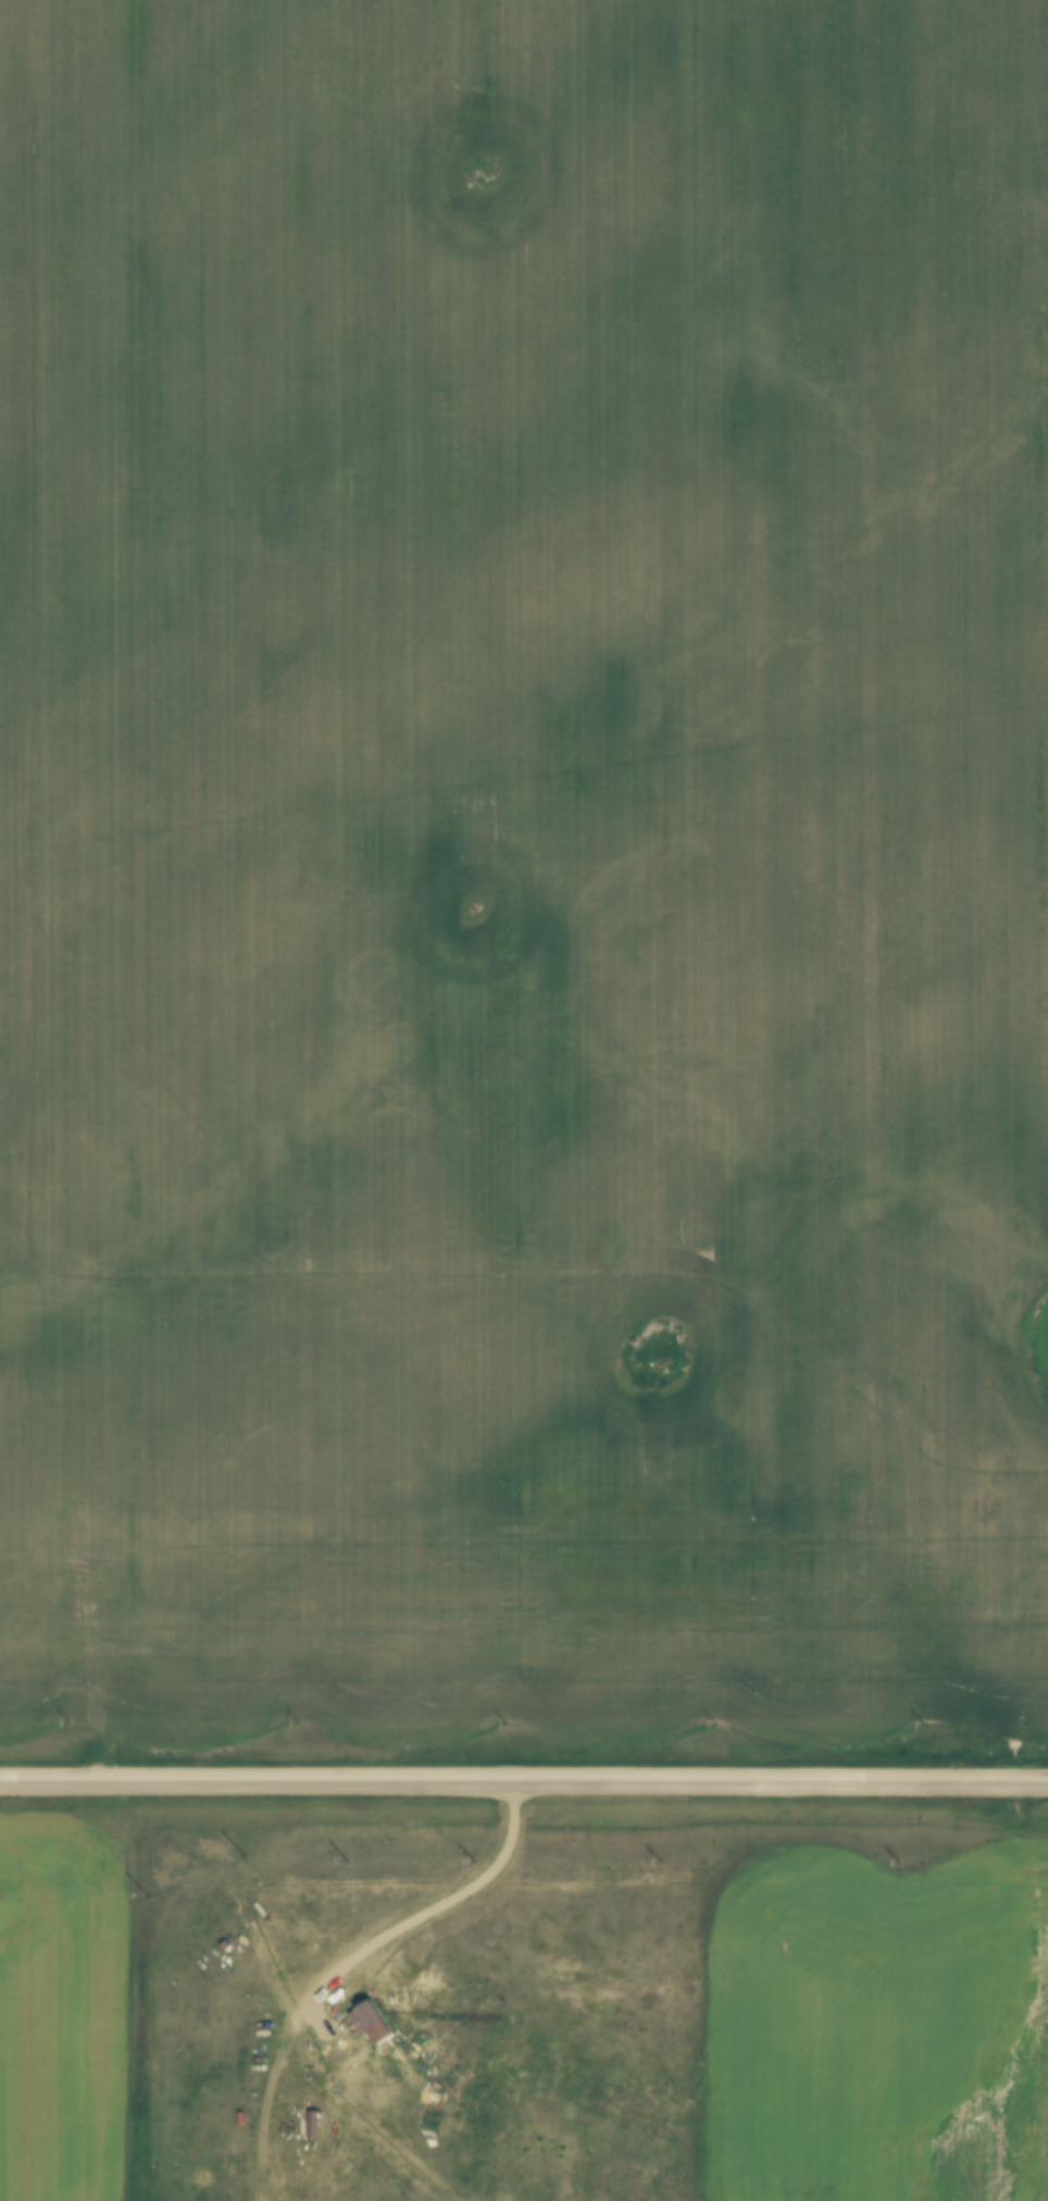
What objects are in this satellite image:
road: (524, 1780)

